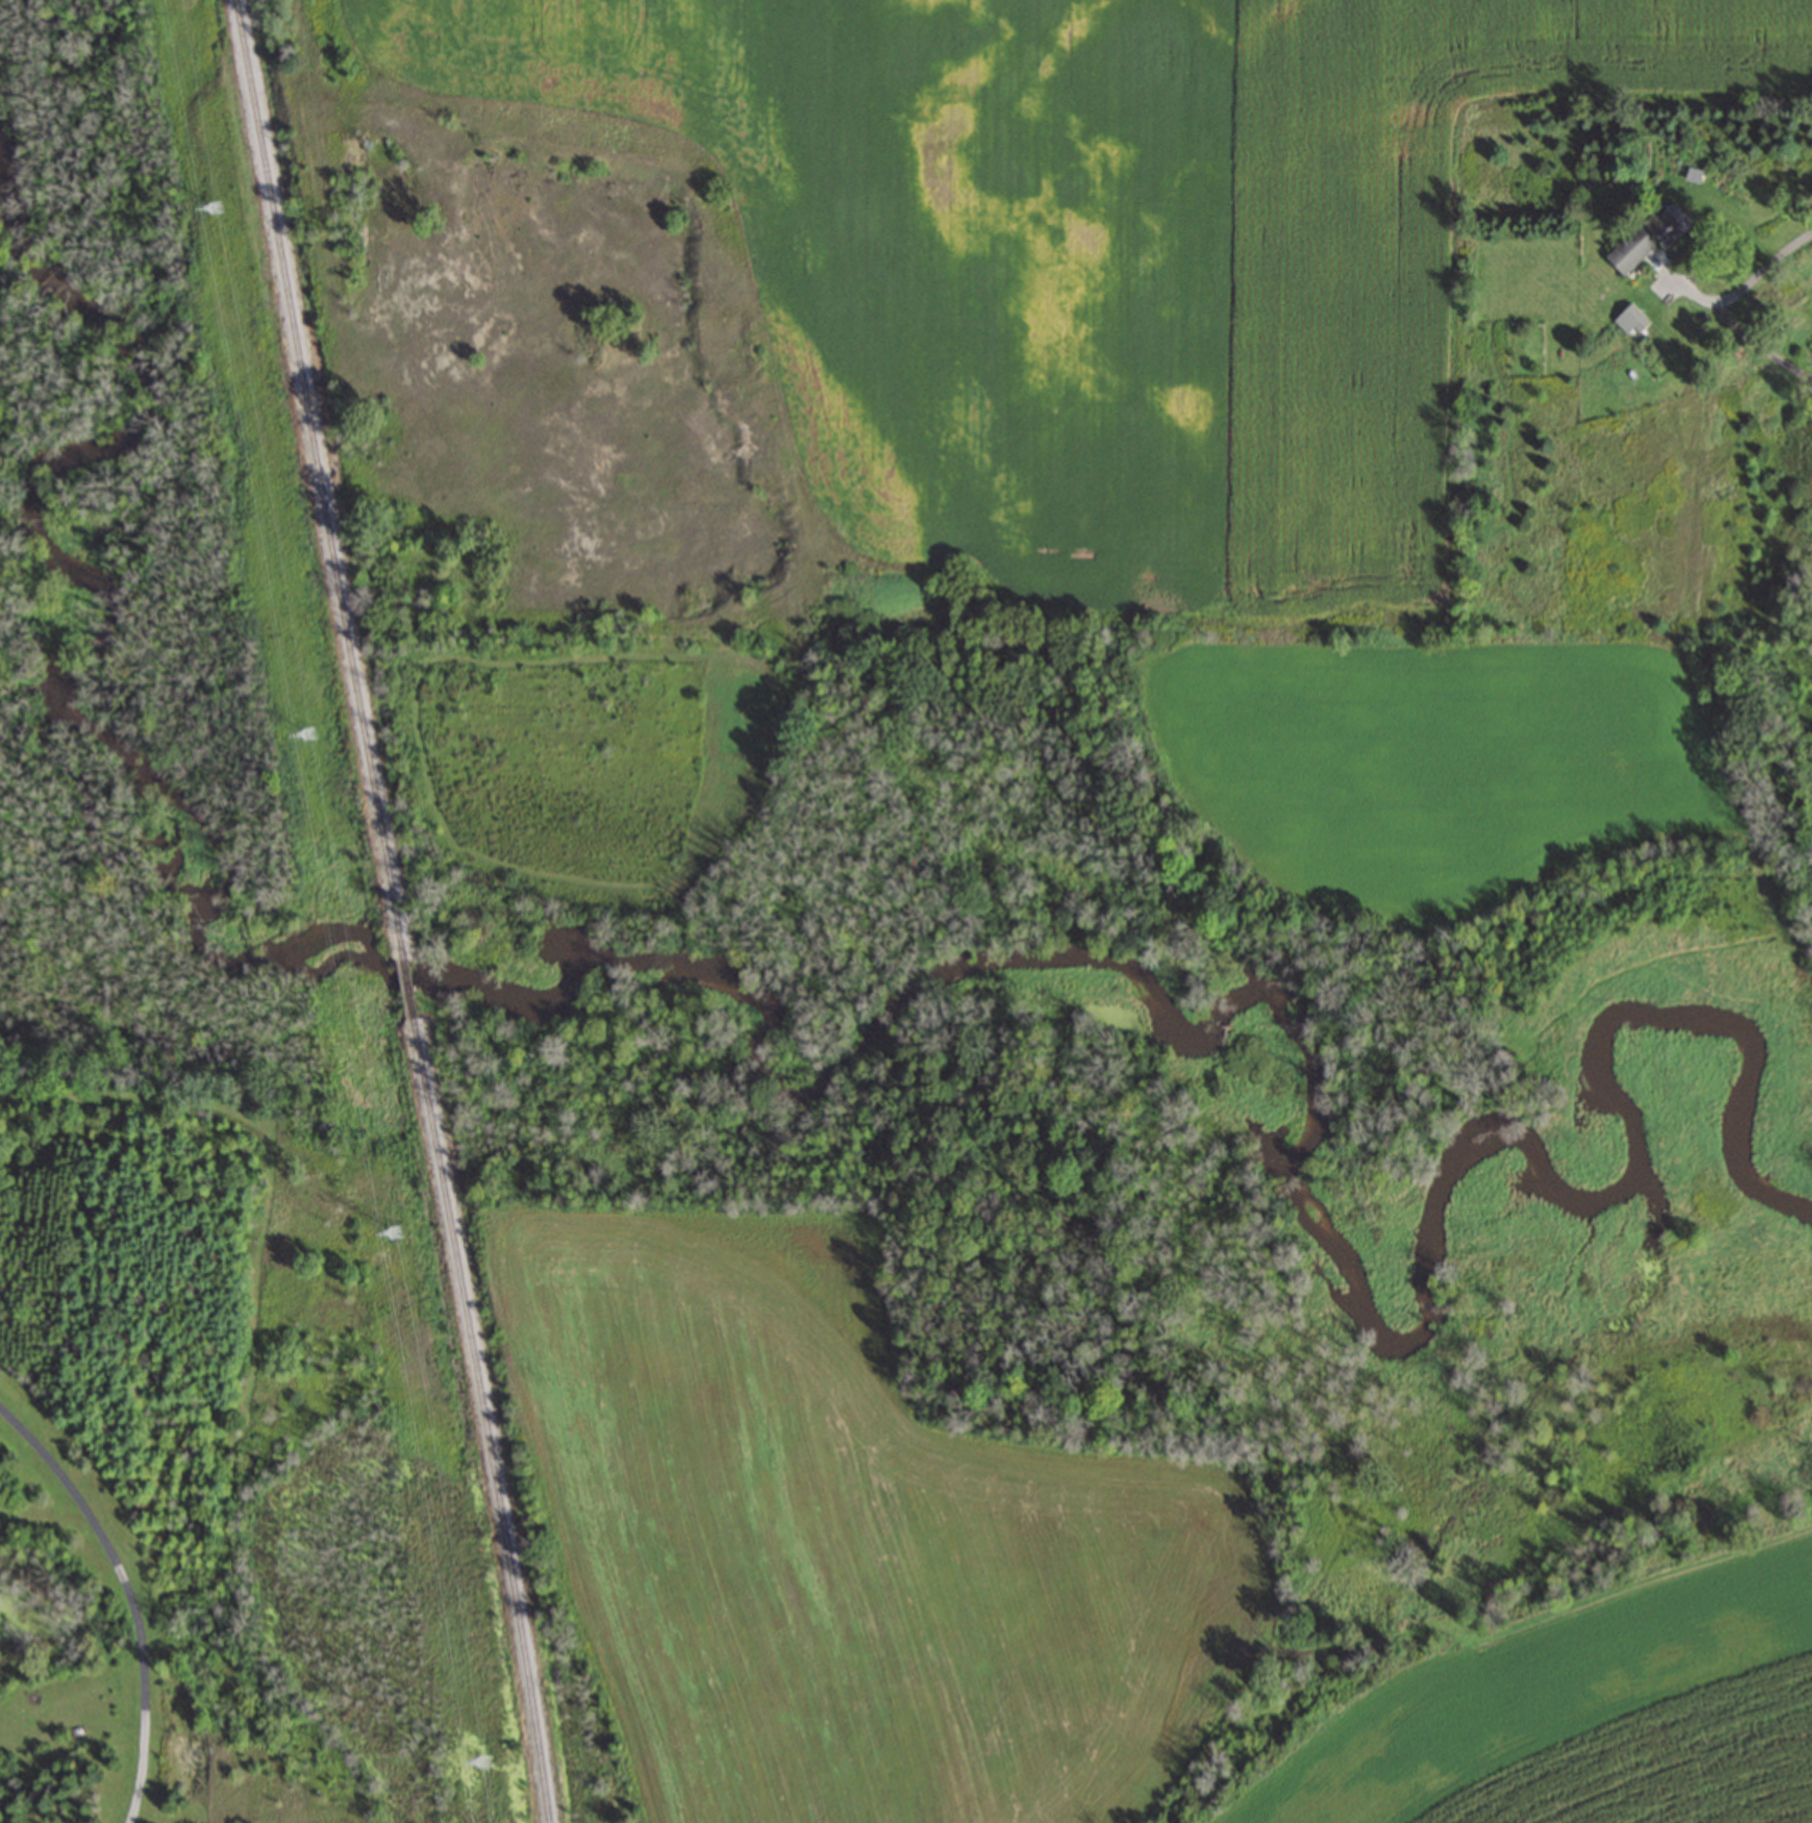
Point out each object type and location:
building: (1647, 235)
road: (1716, 304)
building: (1628, 319)
railway: (398, 910)
river: (789, 1006)

